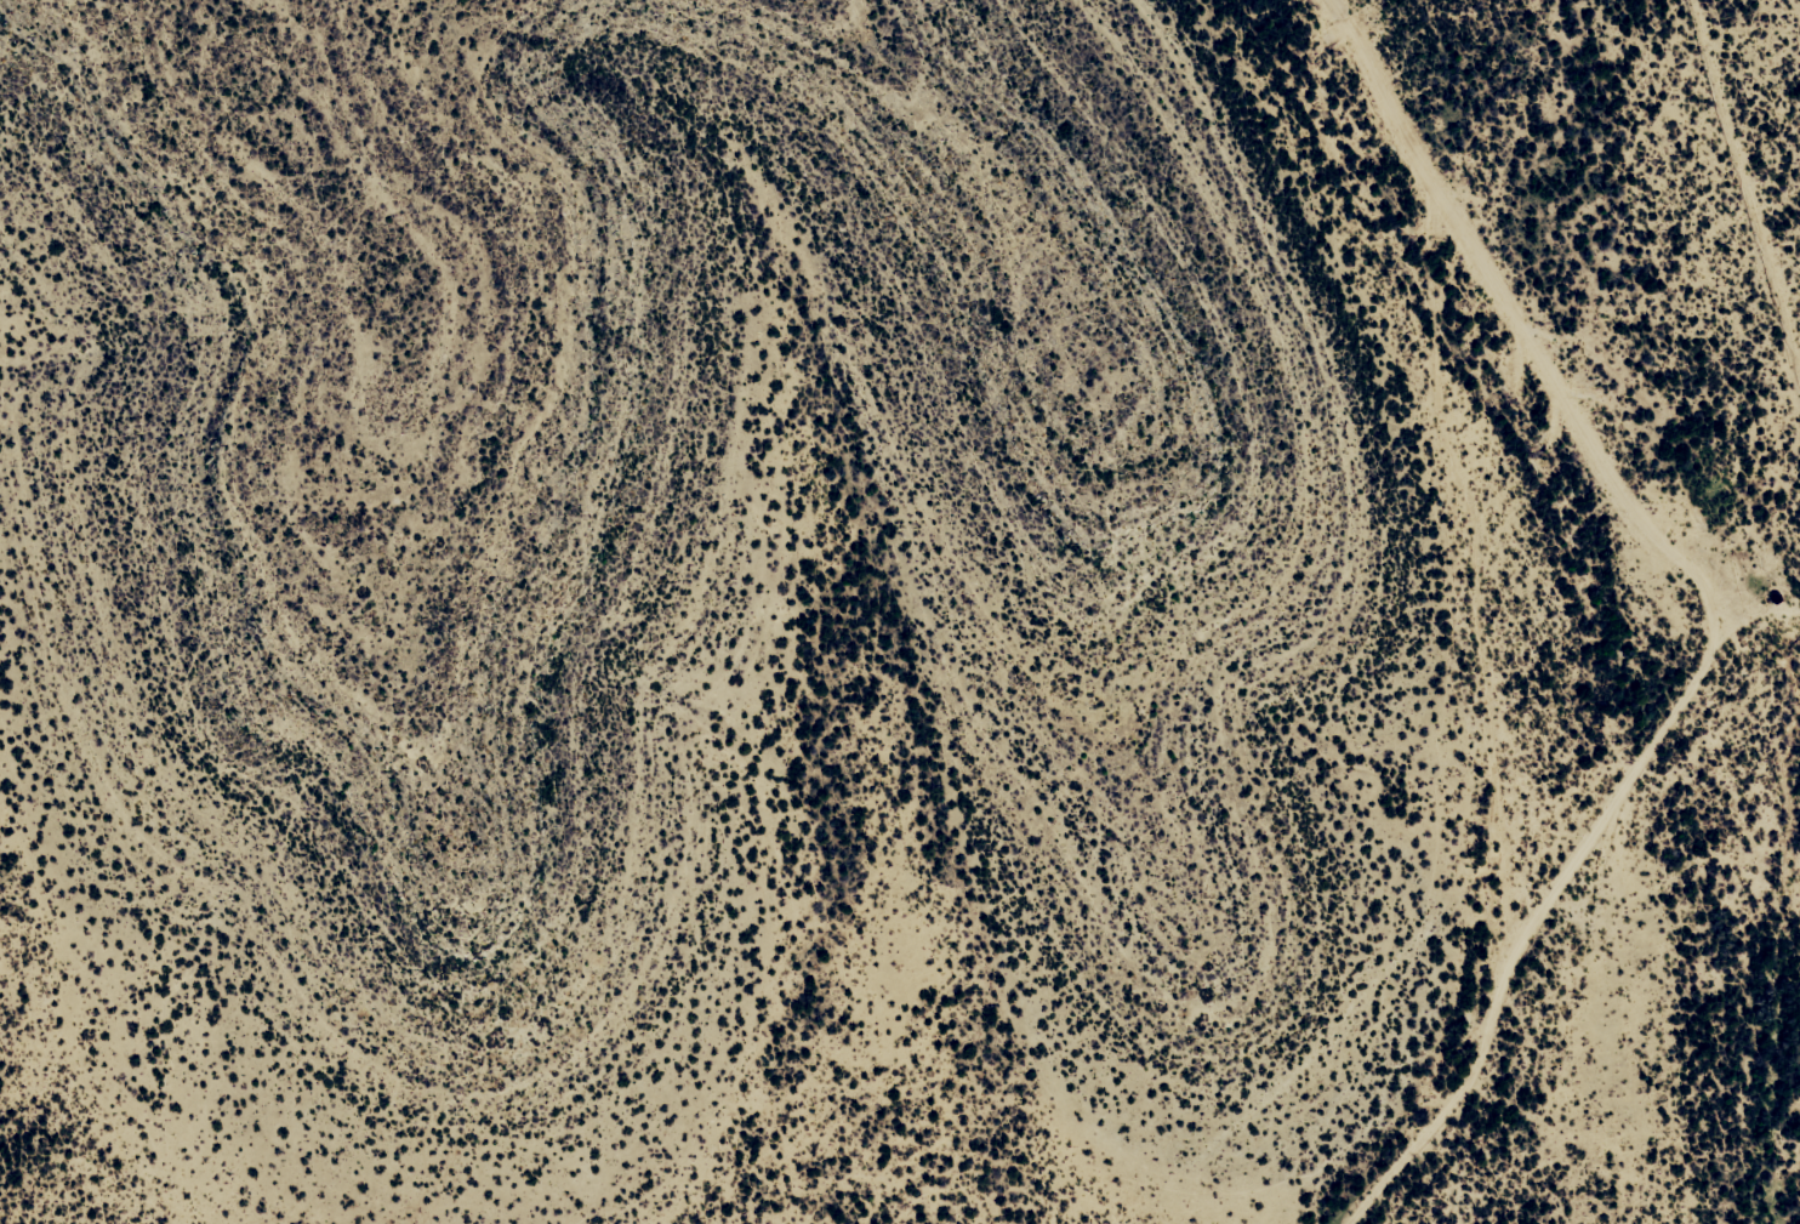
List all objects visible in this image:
road: (1682, 610)

